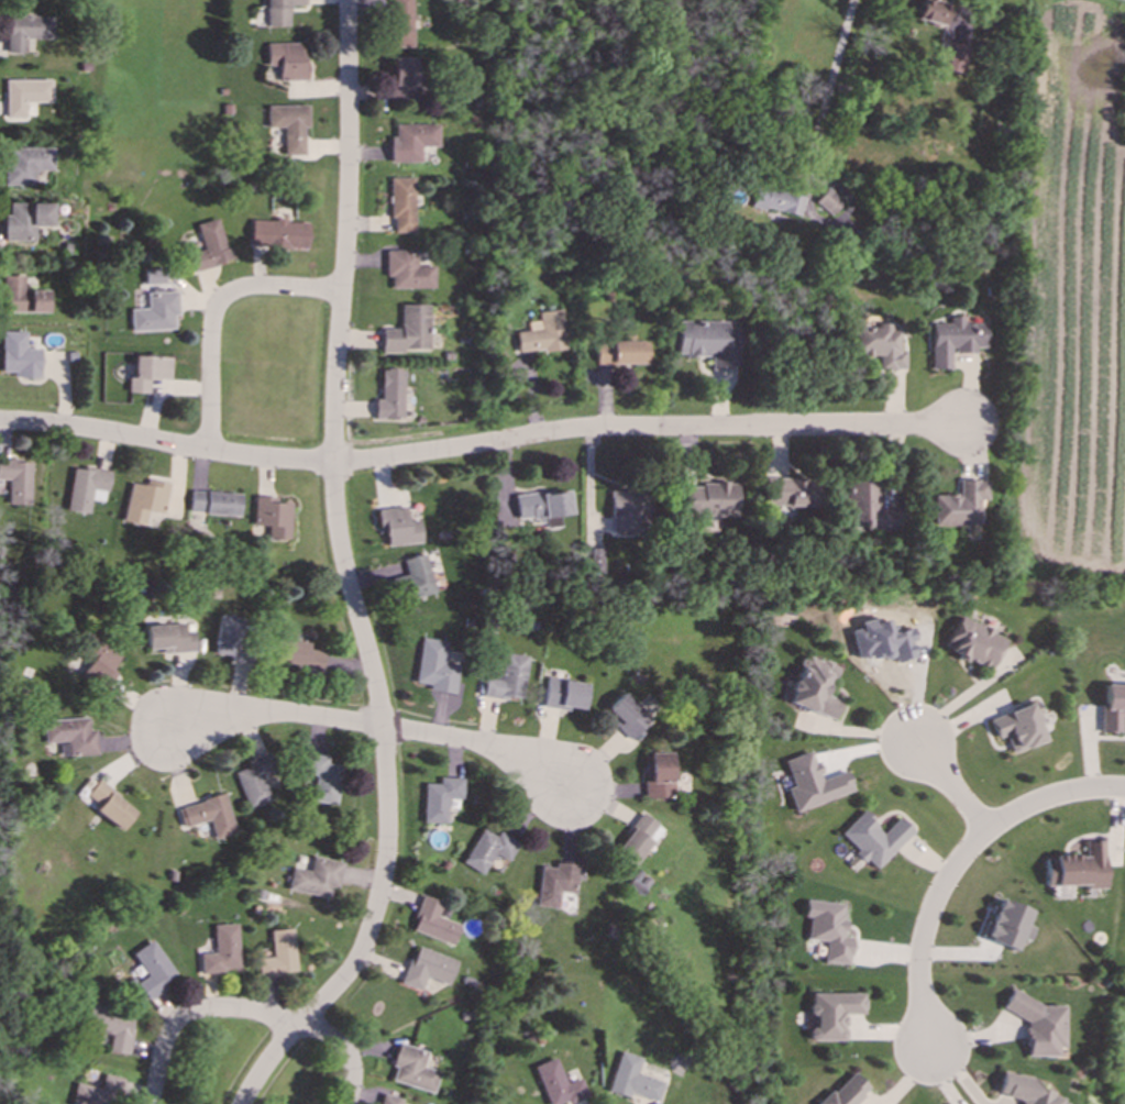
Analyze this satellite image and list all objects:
building: (279, 11)
building: (933, 11)
building: (399, 23)
building: (26, 31)
building: (951, 57)
building: (287, 60)
building: (402, 79)
building: (24, 95)
road: (825, 95)
building: (288, 126)
building: (410, 142)
building: (24, 165)
building: (775, 201)
building: (827, 201)
building: (401, 205)
building: (24, 221)
building: (277, 234)
building: (209, 245)
building: (406, 271)
building: (152, 277)
building: (22, 297)
crop: (1068, 305)
building: (154, 312)
road: (213, 312)
building: (407, 331)
building: (541, 333)
building: (955, 341)
building: (708, 342)
building: (878, 345)
building: (620, 353)
building: (18, 356)
building: (146, 373)
building: (389, 395)
road: (479, 444)
building: (16, 481)
building: (85, 488)
building: (788, 493)
building: (707, 499)
building: (143, 501)
building: (212, 504)
building: (959, 505)
building: (867, 506)
building: (542, 507)
building: (629, 512)
building: (271, 517)
building: (397, 527)
road: (346, 575)
building: (412, 578)
building: (227, 636)
building: (168, 639)
building: (973, 643)
building: (295, 655)
building: (97, 660)
building: (505, 678)
building: (812, 687)
building: (562, 694)
building: (1112, 707)
road: (274, 714)
building: (626, 716)
building: (1018, 728)
building: (69, 737)
road: (475, 743)
building: (657, 775)
building: (320, 777)
building: (254, 782)
building: (812, 783)
road: (948, 785)
building: (438, 798)
building: (108, 805)
building: (207, 816)
building: (873, 838)
building: (636, 841)
building: (486, 850)
road: (957, 863)
building: (1077, 869)
building: (315, 879)
building: (553, 883)
building: (431, 921)
building: (1007, 925)
building: (826, 930)
building: (220, 950)
building: (277, 956)
building: (426, 969)
building: (151, 970)
road: (190, 1012)
building: (830, 1014)
building: (1037, 1024)
building: (110, 1028)
road: (344, 1051)
building: (411, 1069)
building: (630, 1080)
building: (555, 1084)
building: (1023, 1091)
building: (96, 1092)
building: (843, 1092)
building: (387, 1100)

